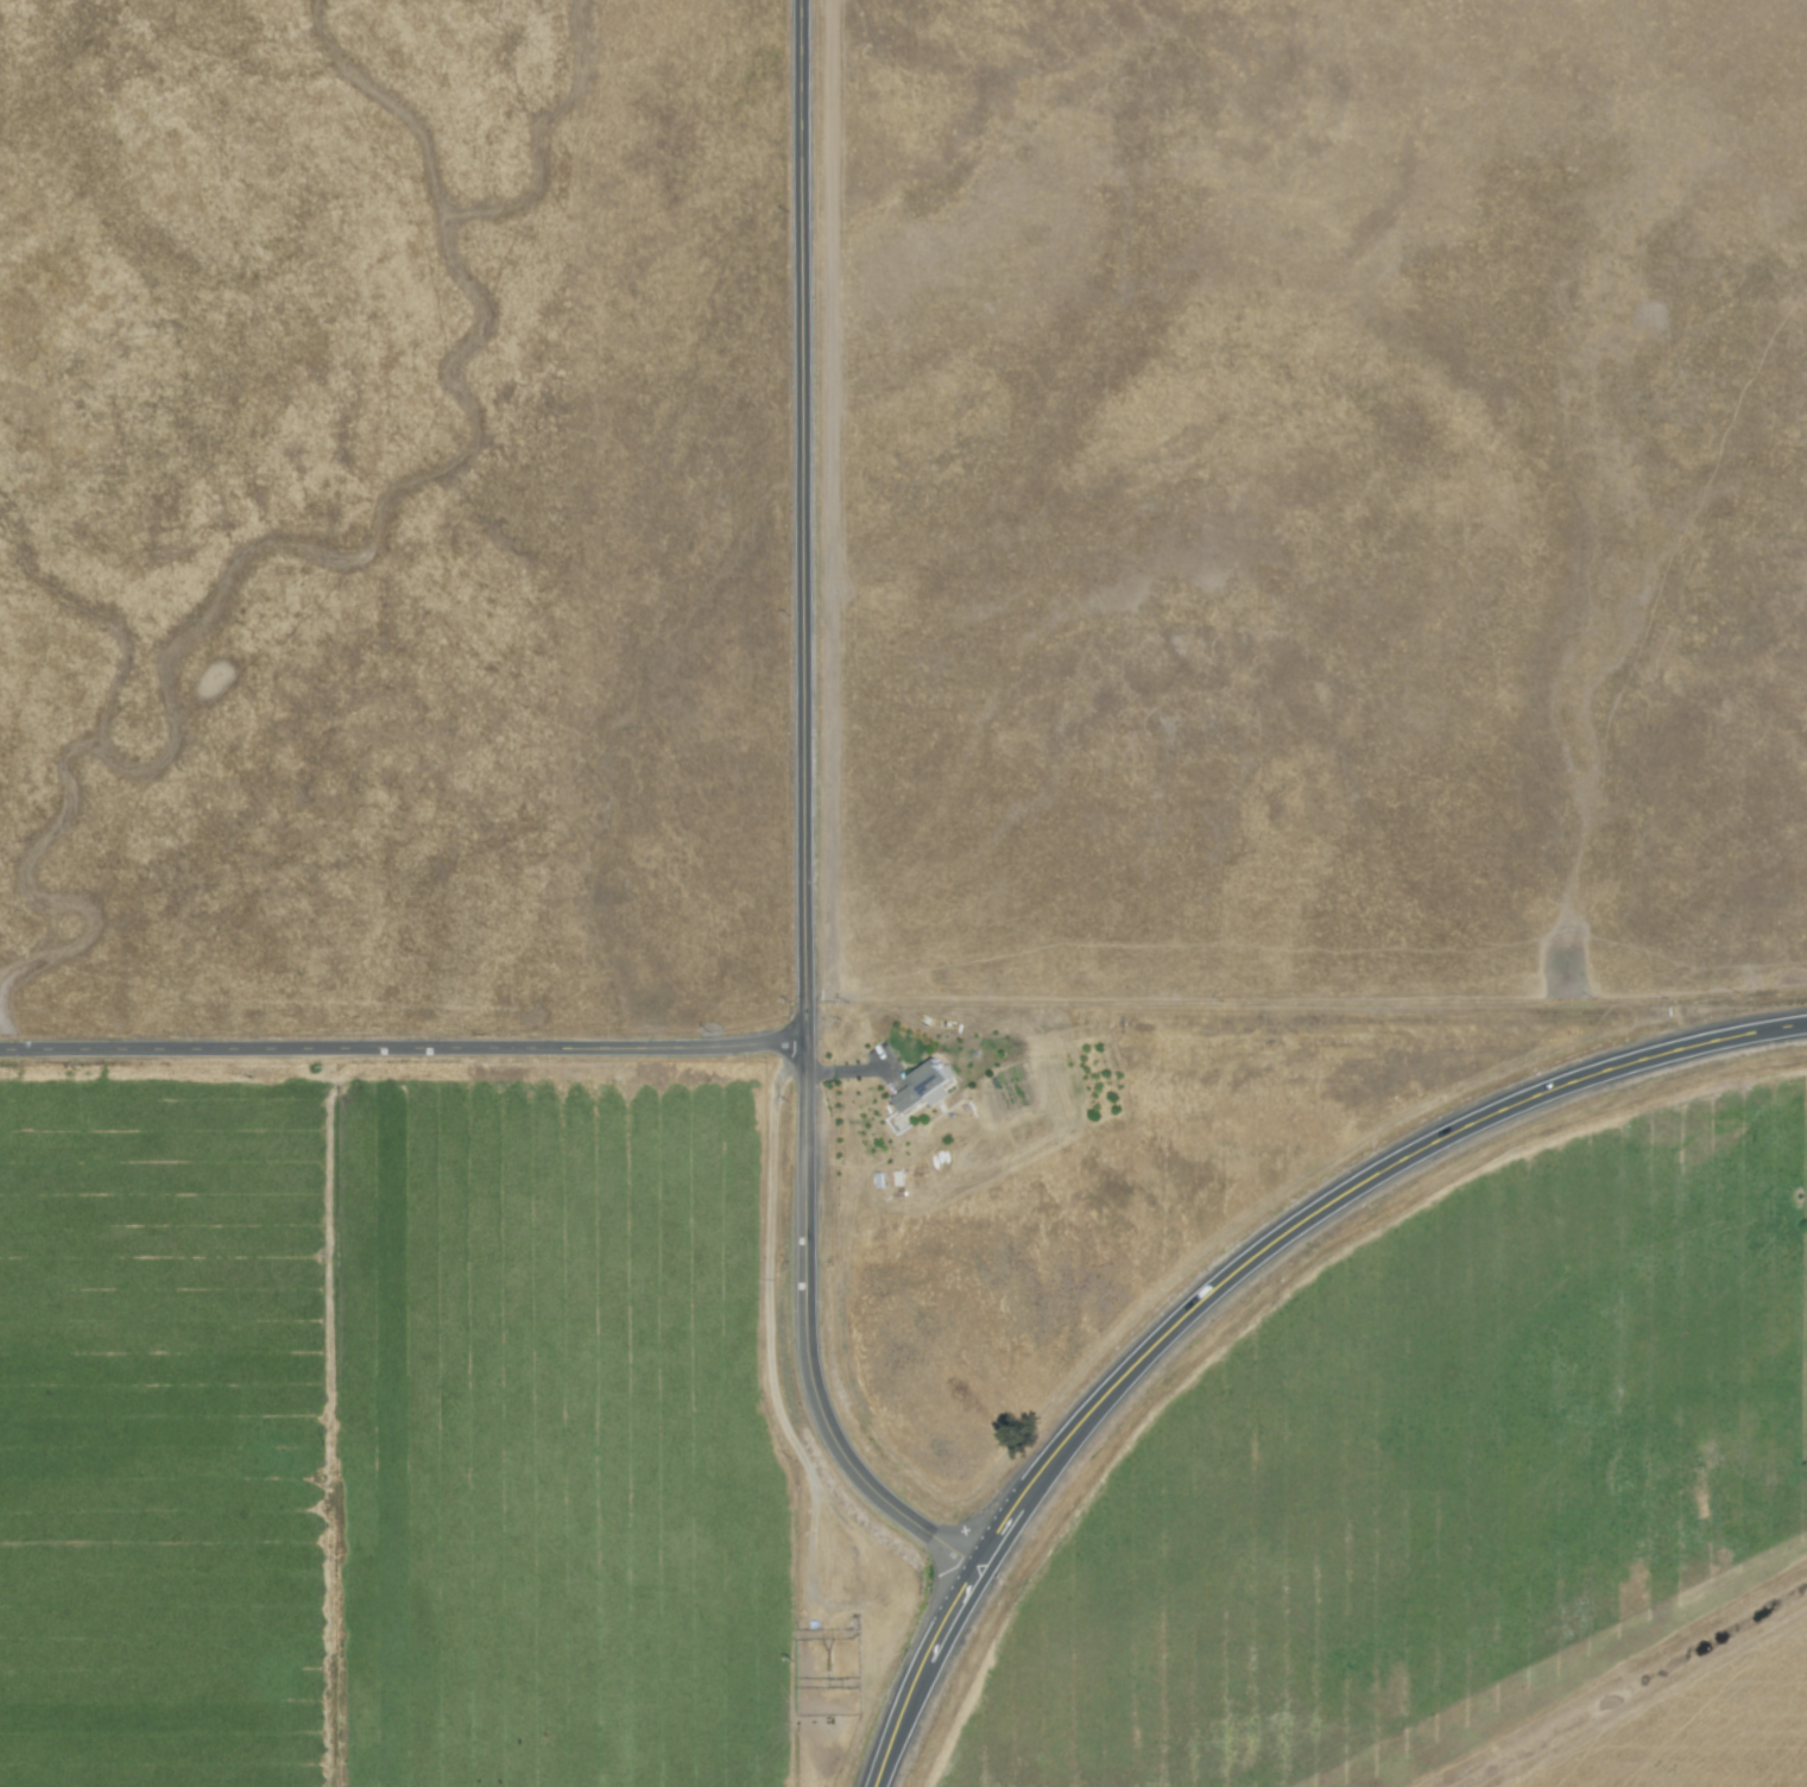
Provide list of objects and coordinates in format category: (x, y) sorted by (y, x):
road: (805, 825)
road: (400, 1048)
building: (918, 1086)
road: (1245, 1283)

